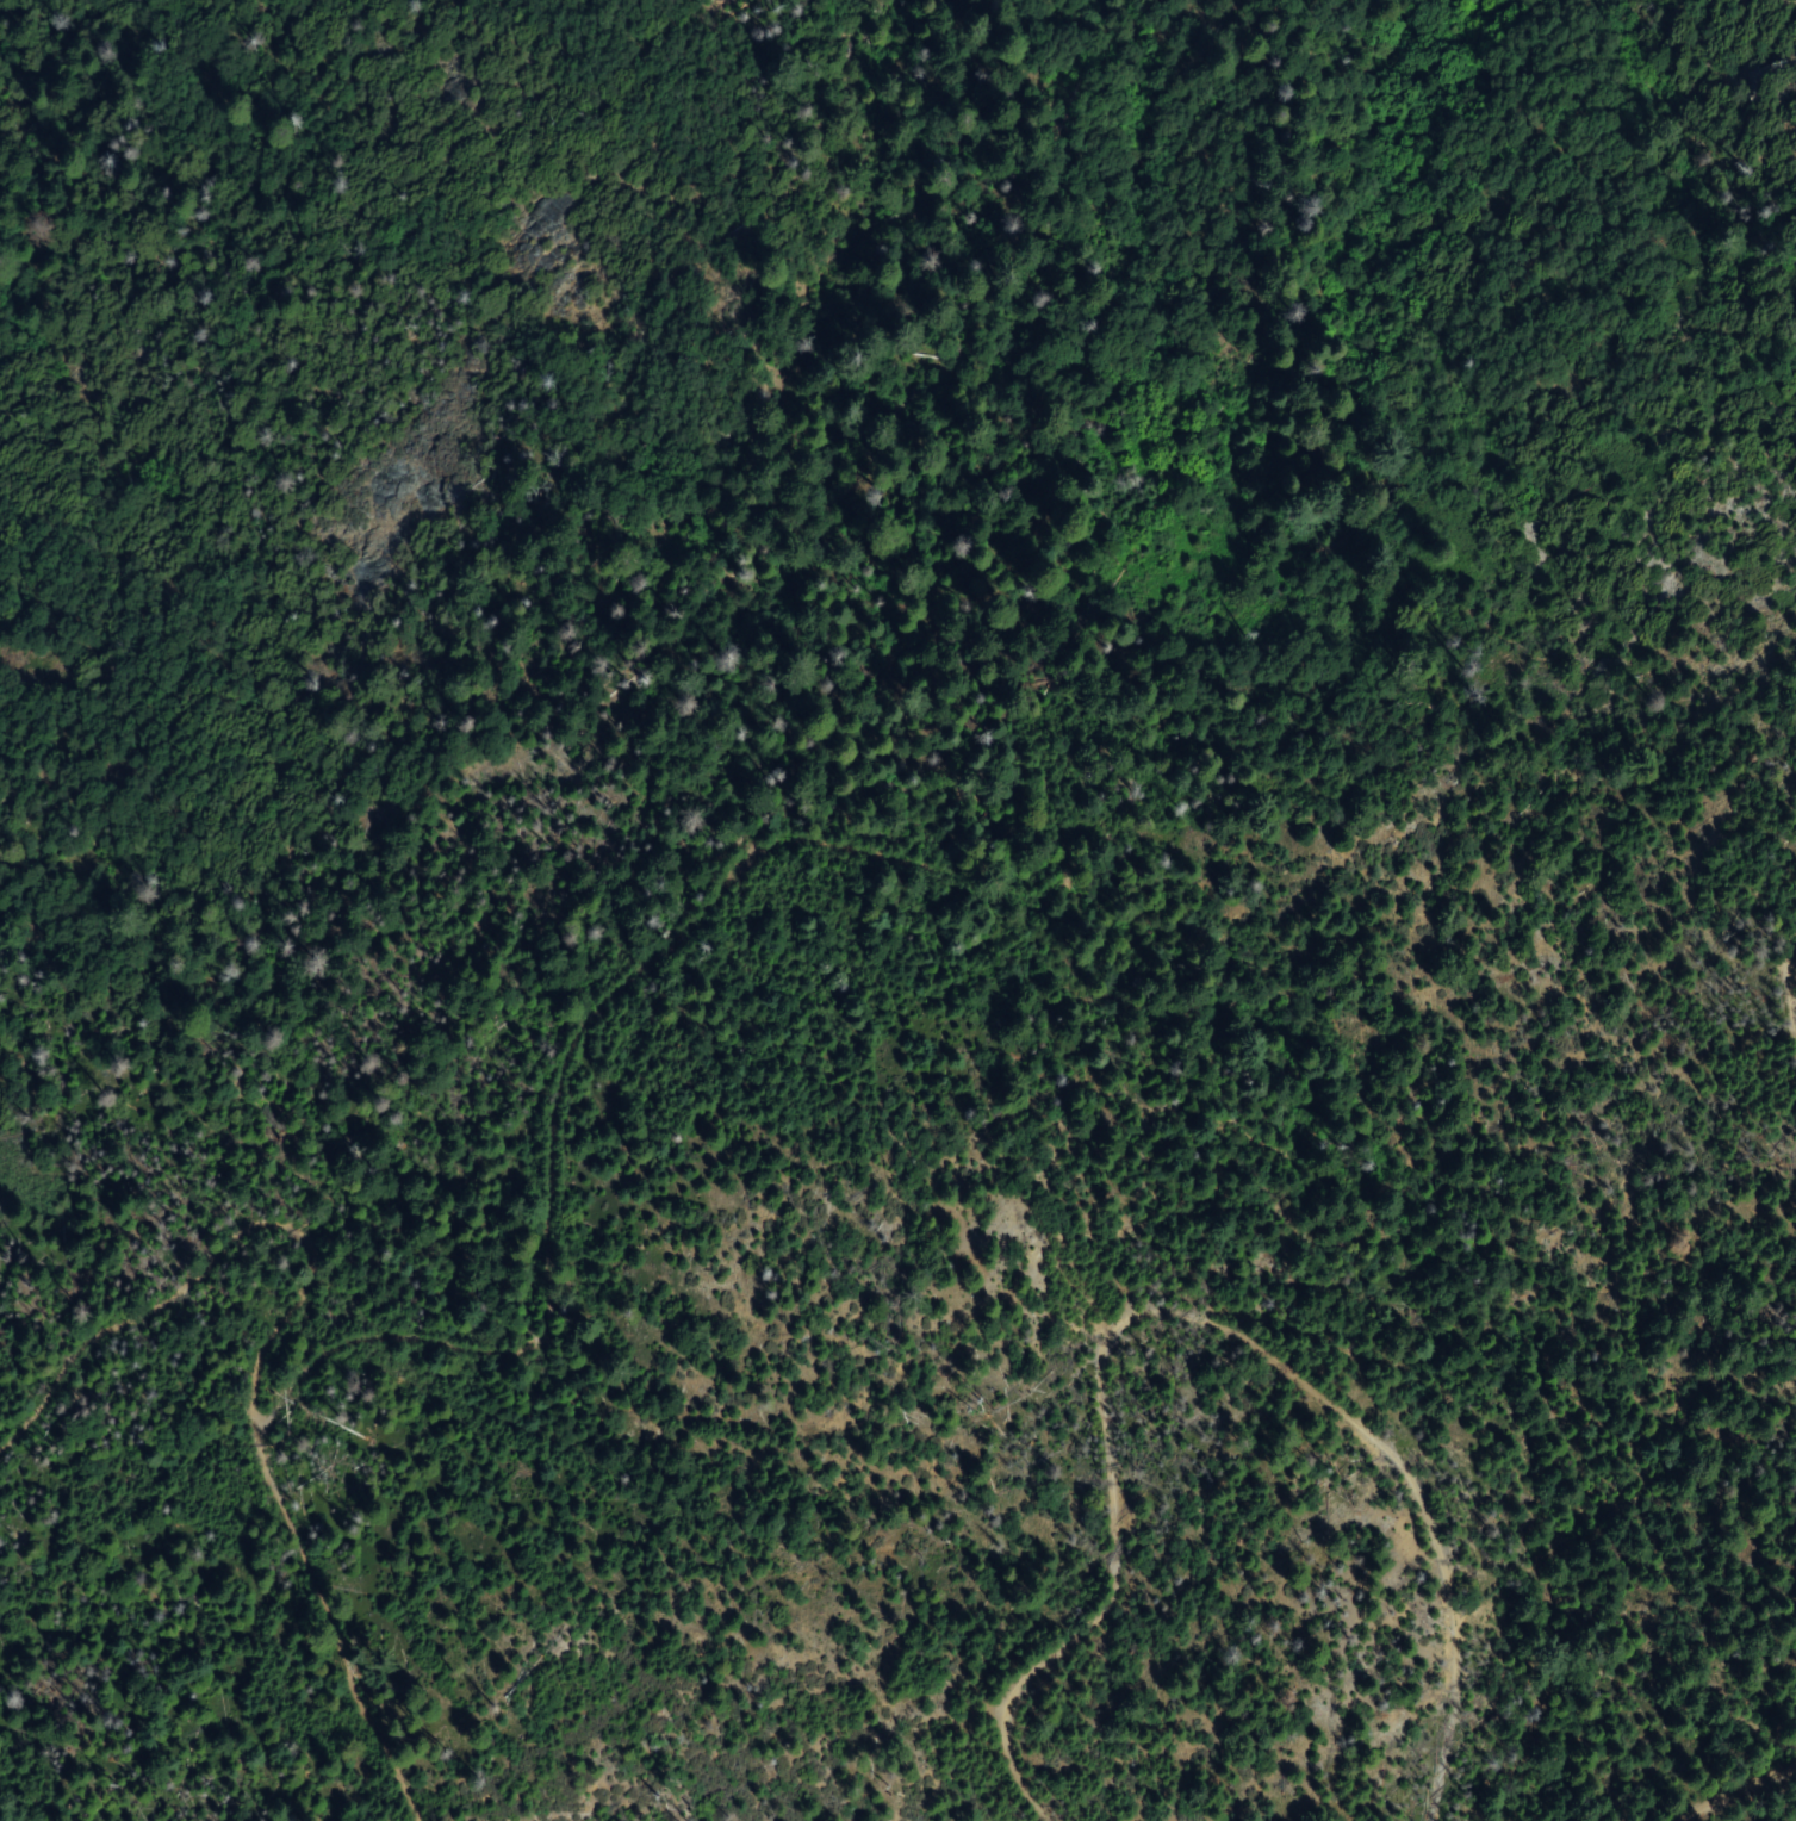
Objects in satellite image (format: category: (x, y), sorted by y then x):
road: (1790, 988)
road: (1181, 1313)
road: (545, 1318)
road: (1740, 1790)

